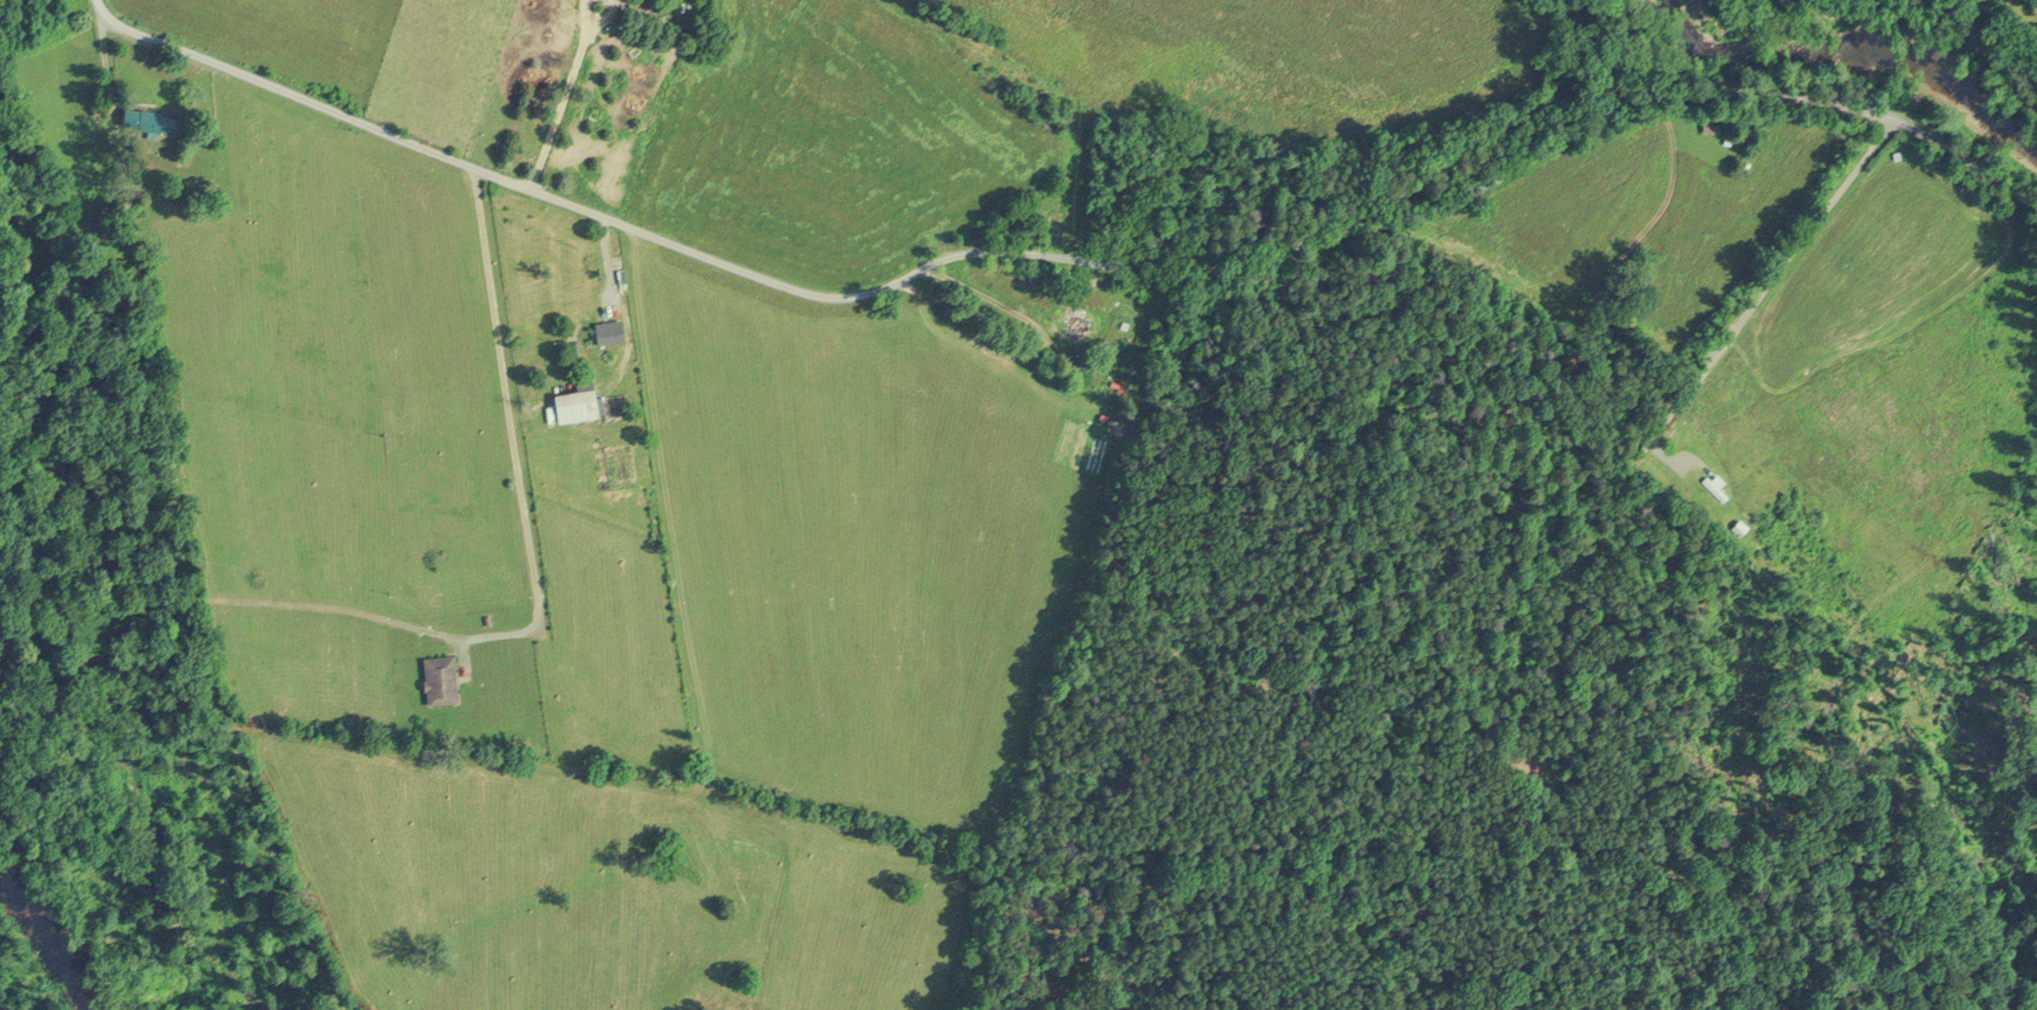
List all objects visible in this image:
road: (98, 10)
road: (1989, 54)
river: (1860, 78)
road: (551, 94)
building: (147, 119)
building: (1709, 127)
road: (598, 254)
road: (1075, 265)
road: (1759, 290)
building: (605, 330)
building: (576, 404)
road: (182, 525)
road: (521, 560)
building: (437, 678)
river: (32, 956)

